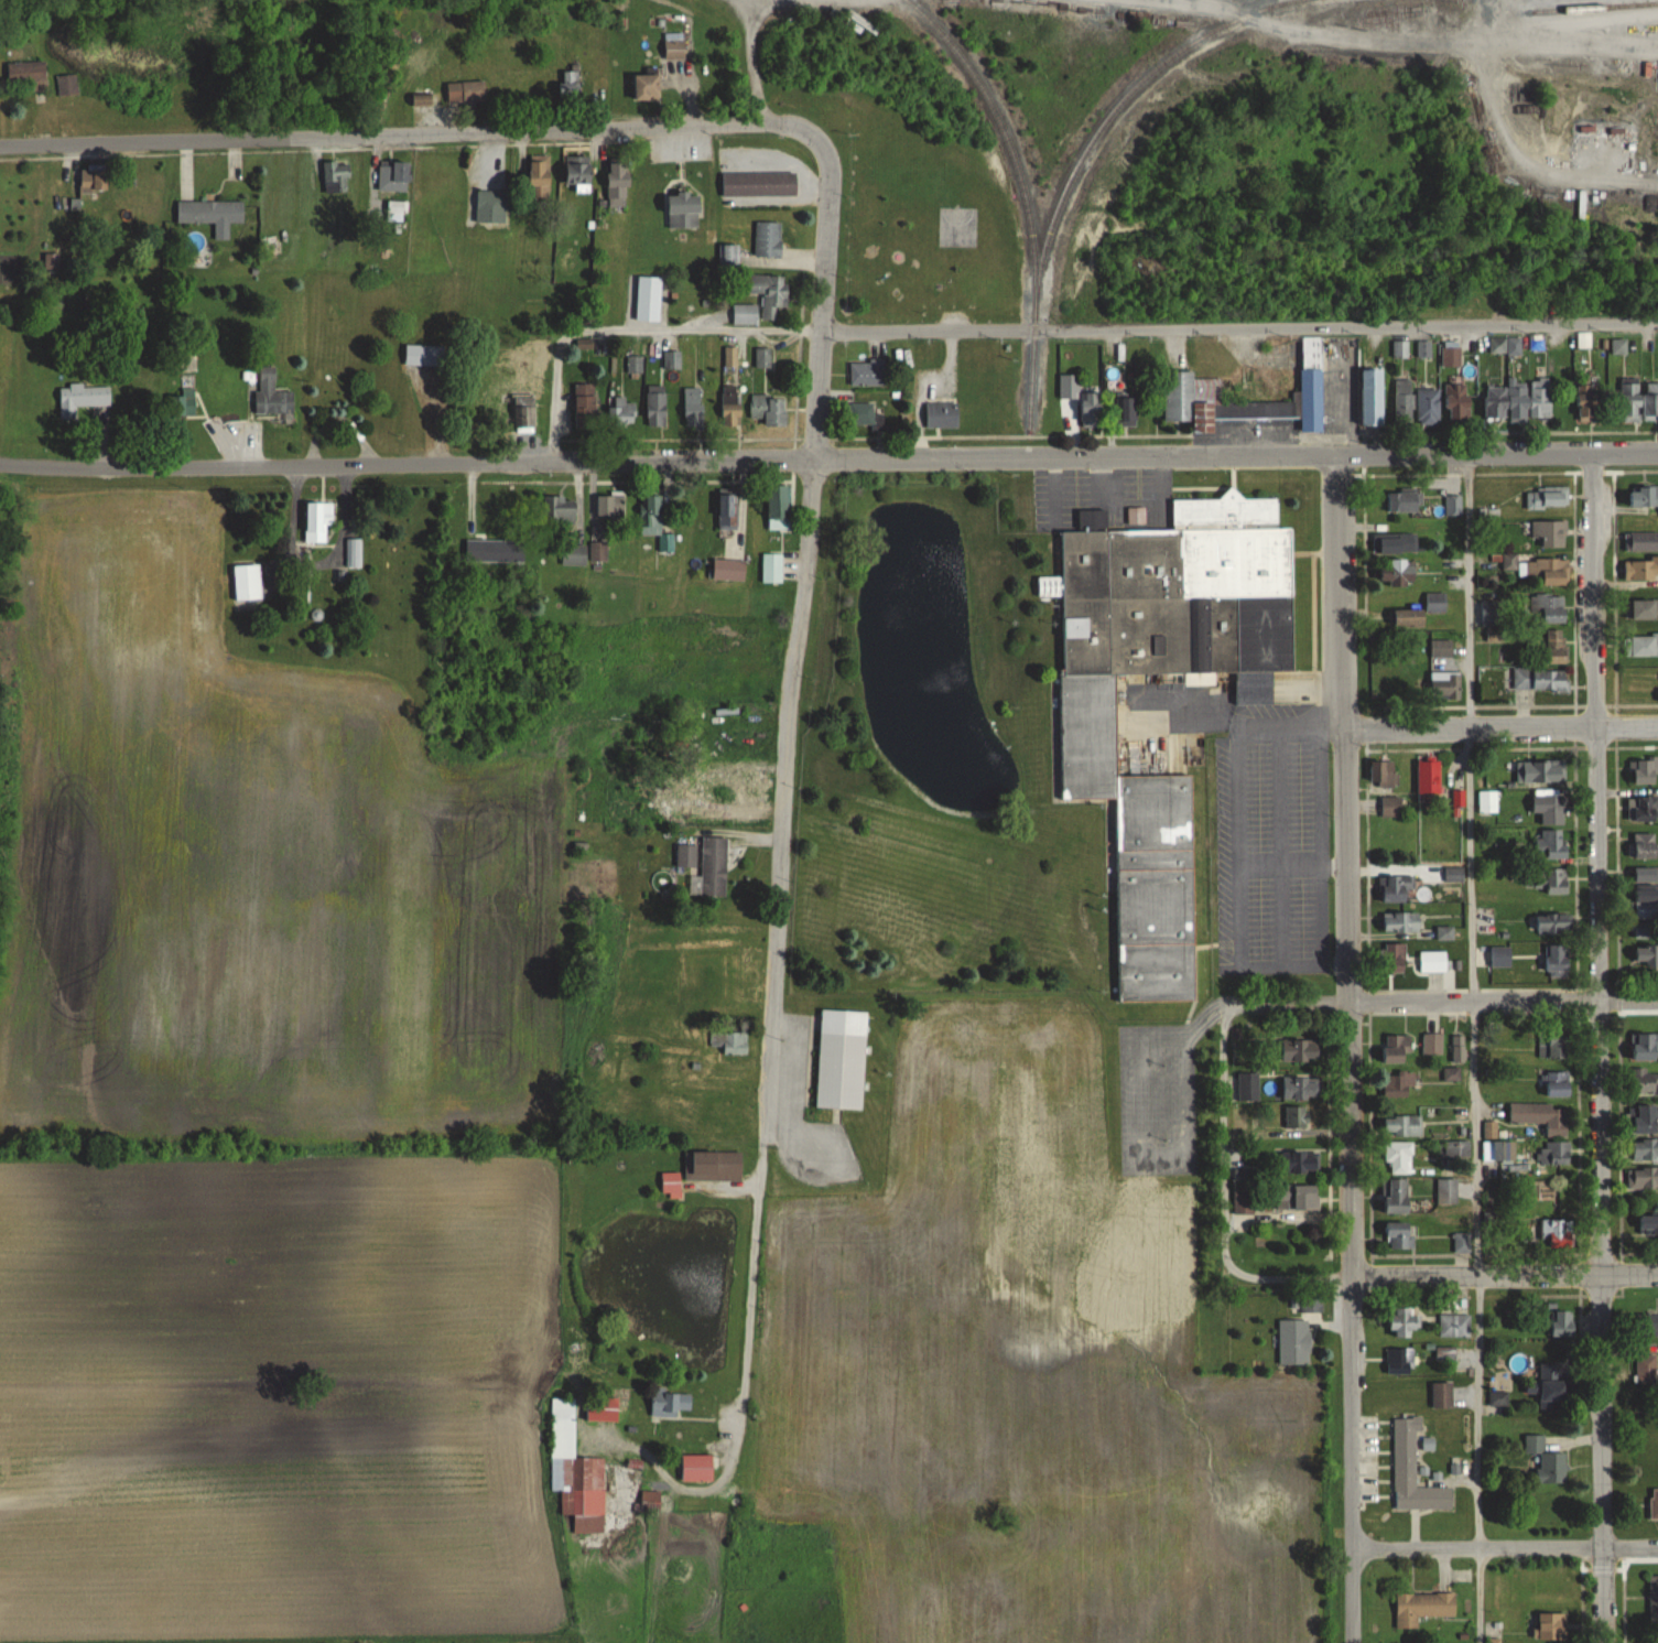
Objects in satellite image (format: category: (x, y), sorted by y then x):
railway: (1597, 8)
road: (740, 22)
road: (1427, 43)
building: (674, 46)
road: (751, 54)
building: (28, 75)
building: (568, 85)
building: (66, 86)
building: (647, 87)
building: (466, 93)
road: (384, 133)
railway: (1011, 142)
railway: (1084, 159)
building: (539, 172)
building: (578, 173)
building: (336, 175)
building: (392, 176)
building: (758, 183)
building: (617, 184)
building: (89, 185)
building: (489, 202)
building: (683, 210)
building: (395, 213)
building: (210, 215)
park: (915, 218)
building: (956, 226)
building: (767, 238)
road: (824, 273)
building: (770, 293)
building: (648, 299)
building: (744, 314)
road: (1239, 327)
road: (628, 332)
building: (423, 356)
building: (762, 358)
building: (671, 360)
building: (633, 365)
building: (867, 372)
building: (1192, 385)
building: (271, 393)
building: (1372, 397)
building: (80, 399)
building: (1517, 399)
building: (1585, 399)
building: (1638, 399)
building: (1457, 400)
building: (186, 401)
building: (1402, 401)
building: (655, 406)
building: (1428, 406)
building: (585, 407)
building: (730, 408)
building: (692, 409)
building: (769, 410)
building: (1091, 411)
building: (1124, 411)
building: (622, 413)
building: (859, 413)
building: (523, 414)
building: (941, 414)
road: (1234, 454)
road: (404, 464)
road: (1101, 478)
road: (1160, 479)
road: (1053, 489)
building: (1644, 495)
building: (1547, 496)
building: (1404, 500)
building: (1452, 505)
building: (610, 507)
building: (777, 507)
building: (727, 509)
building: (564, 510)
building: (650, 515)
building: (1135, 516)
building: (317, 522)
building: (1548, 532)
building: (1644, 541)
building: (1397, 542)
building: (598, 552)
building: (354, 553)
building: (574, 554)
building: (1640, 568)
building: (728, 570)
building: (1546, 570)
building: (1398, 571)
building: (247, 583)
building: (1549, 606)
building: (1645, 608)
building: (1421, 610)
building: (1644, 645)
building: (1557, 646)
building: (1441, 648)
building: (1540, 679)
building: (1445, 685)
road: (1502, 728)
building: (1088, 739)
road: (1236, 748)
building: (1646, 770)
building: (1541, 771)
building: (1389, 775)
building: (1429, 777)
building: (1487, 802)
building: (1391, 807)
building: (1643, 808)
building: (1550, 809)
building: (1551, 845)
building: (1645, 845)
building: (577, 847)
road: (1318, 847)
building: (685, 855)
building: (713, 866)
building: (1455, 874)
building: (1646, 874)
building: (1556, 880)
building: (1397, 888)
building: (1646, 902)
road: (774, 914)
road: (1235, 919)
building: (1401, 922)
building: (1553, 923)
building: (1647, 930)
building: (1647, 955)
building: (1500, 956)
building: (1394, 958)
building: (1558, 960)
building: (1432, 962)
road: (1503, 1003)
building: (727, 1041)
building: (1431, 1044)
building: (1553, 1045)
road: (1599, 1046)
building: (1645, 1046)
road: (1348, 1047)
road: (1473, 1047)
building: (1457, 1048)
building: (1397, 1049)
building: (1299, 1050)
building: (841, 1059)
building: (1451, 1074)
building: (1645, 1081)
building: (1557, 1084)
building: (1397, 1087)
building: (1299, 1089)
building: (1294, 1117)
building: (1646, 1118)
building: (1548, 1120)
building: (1401, 1125)
road: (1222, 1138)
building: (1452, 1149)
building: (1645, 1149)
building: (1552, 1153)
building: (1398, 1157)
building: (1298, 1161)
building: (714, 1166)
building: (671, 1177)
building: (1645, 1177)
building: (1446, 1190)
building: (1244, 1195)
building: (1397, 1196)
building: (1296, 1197)
building: (1648, 1224)
building: (1552, 1229)
building: (1399, 1235)
building: (1462, 1242)
road: (1503, 1276)
building: (1404, 1320)
building: (1563, 1322)
building: (1453, 1325)
building: (1647, 1325)
building: (1293, 1342)
building: (1399, 1361)
building: (1646, 1369)
building: (1553, 1384)
building: (1442, 1395)
building: (670, 1401)
building: (602, 1408)
building: (1547, 1461)
building: (697, 1467)
building: (1412, 1471)
building: (576, 1473)
building: (650, 1500)
road: (718, 1505)
building: (1654, 1505)
road: (1504, 1547)
building: (1652, 1599)
building: (1422, 1607)
building: (1550, 1626)
building: (1654, 1642)

